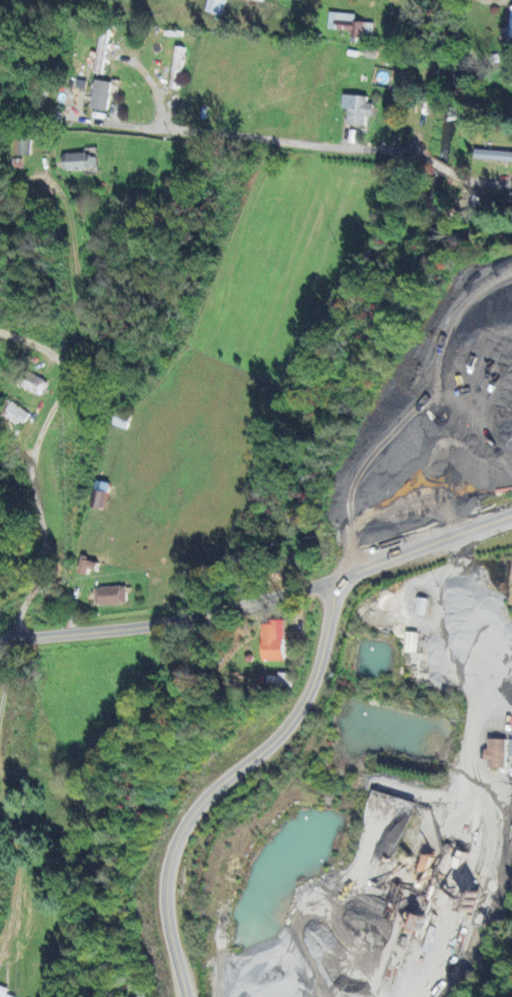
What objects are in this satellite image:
road: (492, 2)
building: (214, 6)
building: (350, 26)
building: (507, 33)
building: (99, 94)
building: (356, 108)
road: (249, 136)
building: (20, 143)
building: (78, 161)
road: (439, 166)
road: (481, 179)
road: (68, 289)
building: (30, 382)
building: (16, 413)
road: (40, 473)
building: (86, 565)
road: (380, 566)
building: (109, 595)
road: (220, 611)
road: (97, 629)
building: (270, 641)
building: (410, 641)
road: (6, 678)
building: (510, 748)
building: (496, 752)
road: (230, 782)
road: (21, 867)
road: (497, 974)
building: (4, 992)

